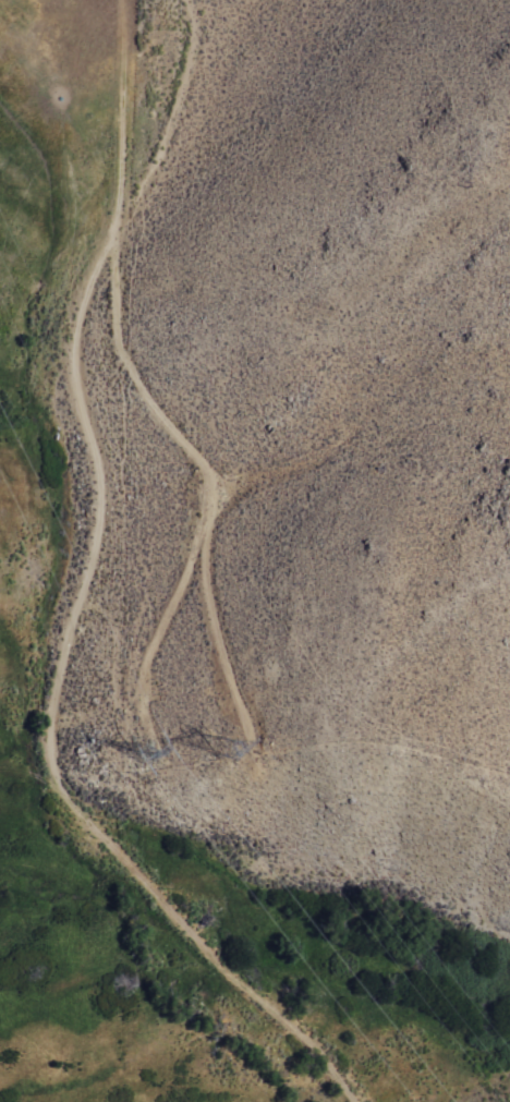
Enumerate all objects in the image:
road: (208, 484)
road: (74, 604)
road: (166, 615)
power tower: (235, 749)
power tower: (144, 758)

